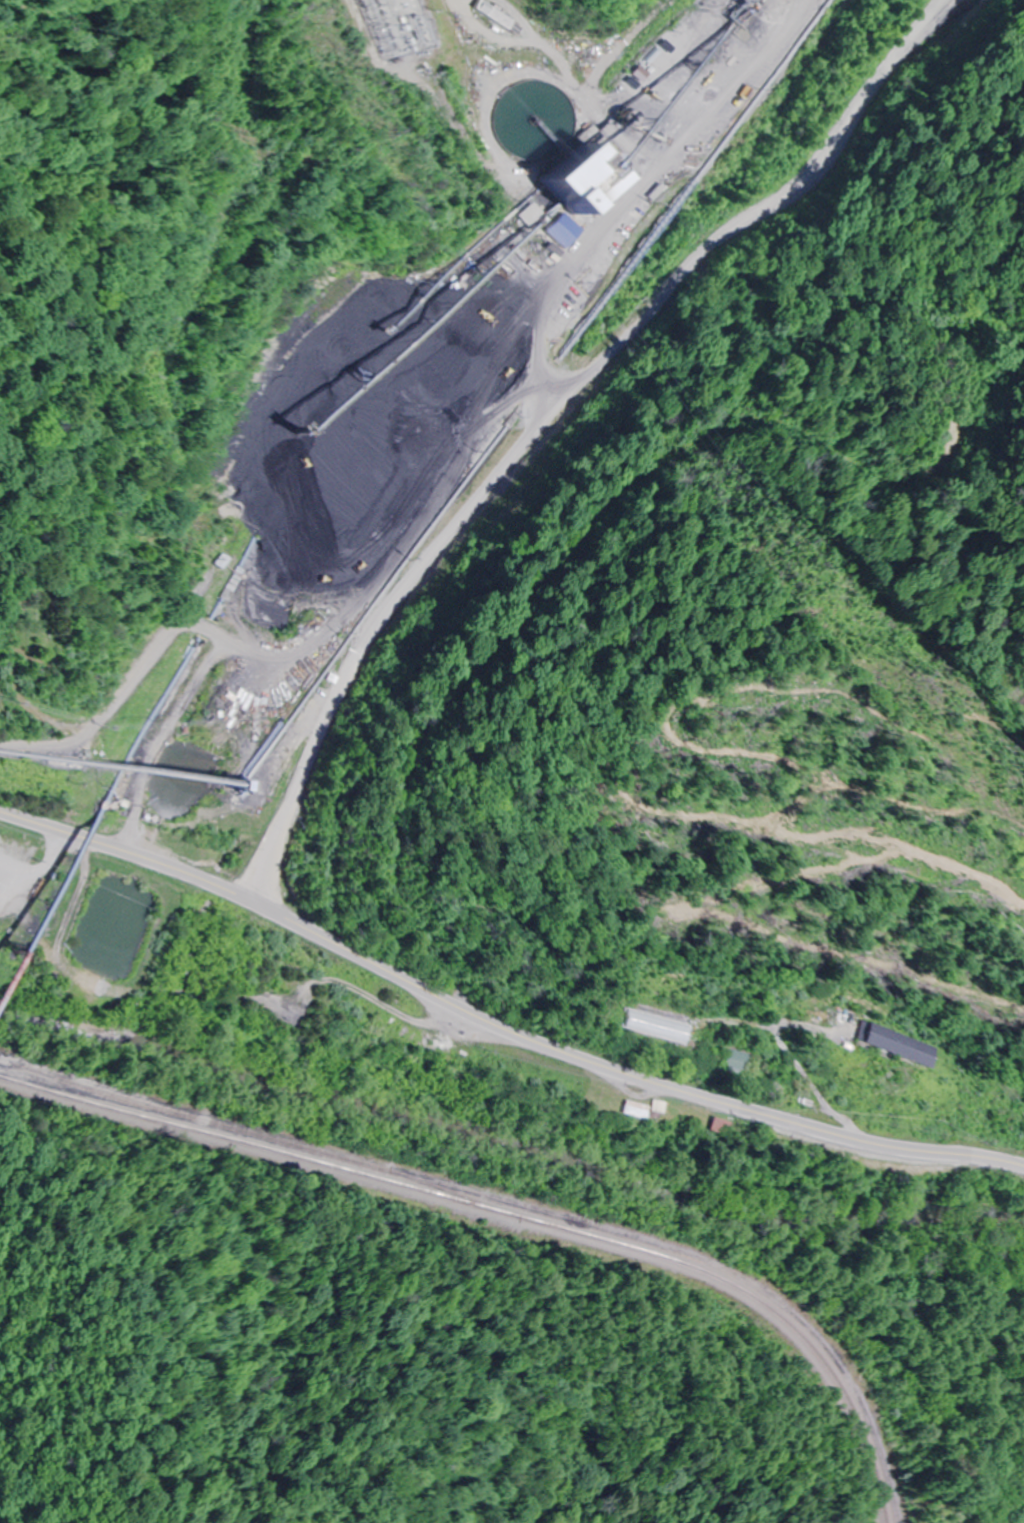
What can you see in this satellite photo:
building: (576, 180)
road: (550, 408)
park: (39, 627)
road: (498, 1026)
building: (892, 1044)
building: (732, 1060)
building: (652, 1106)
building: (628, 1109)
building: (713, 1126)
railway: (261, 1135)
river: (509, 1140)
railway: (516, 1215)
river: (1020, 1517)

